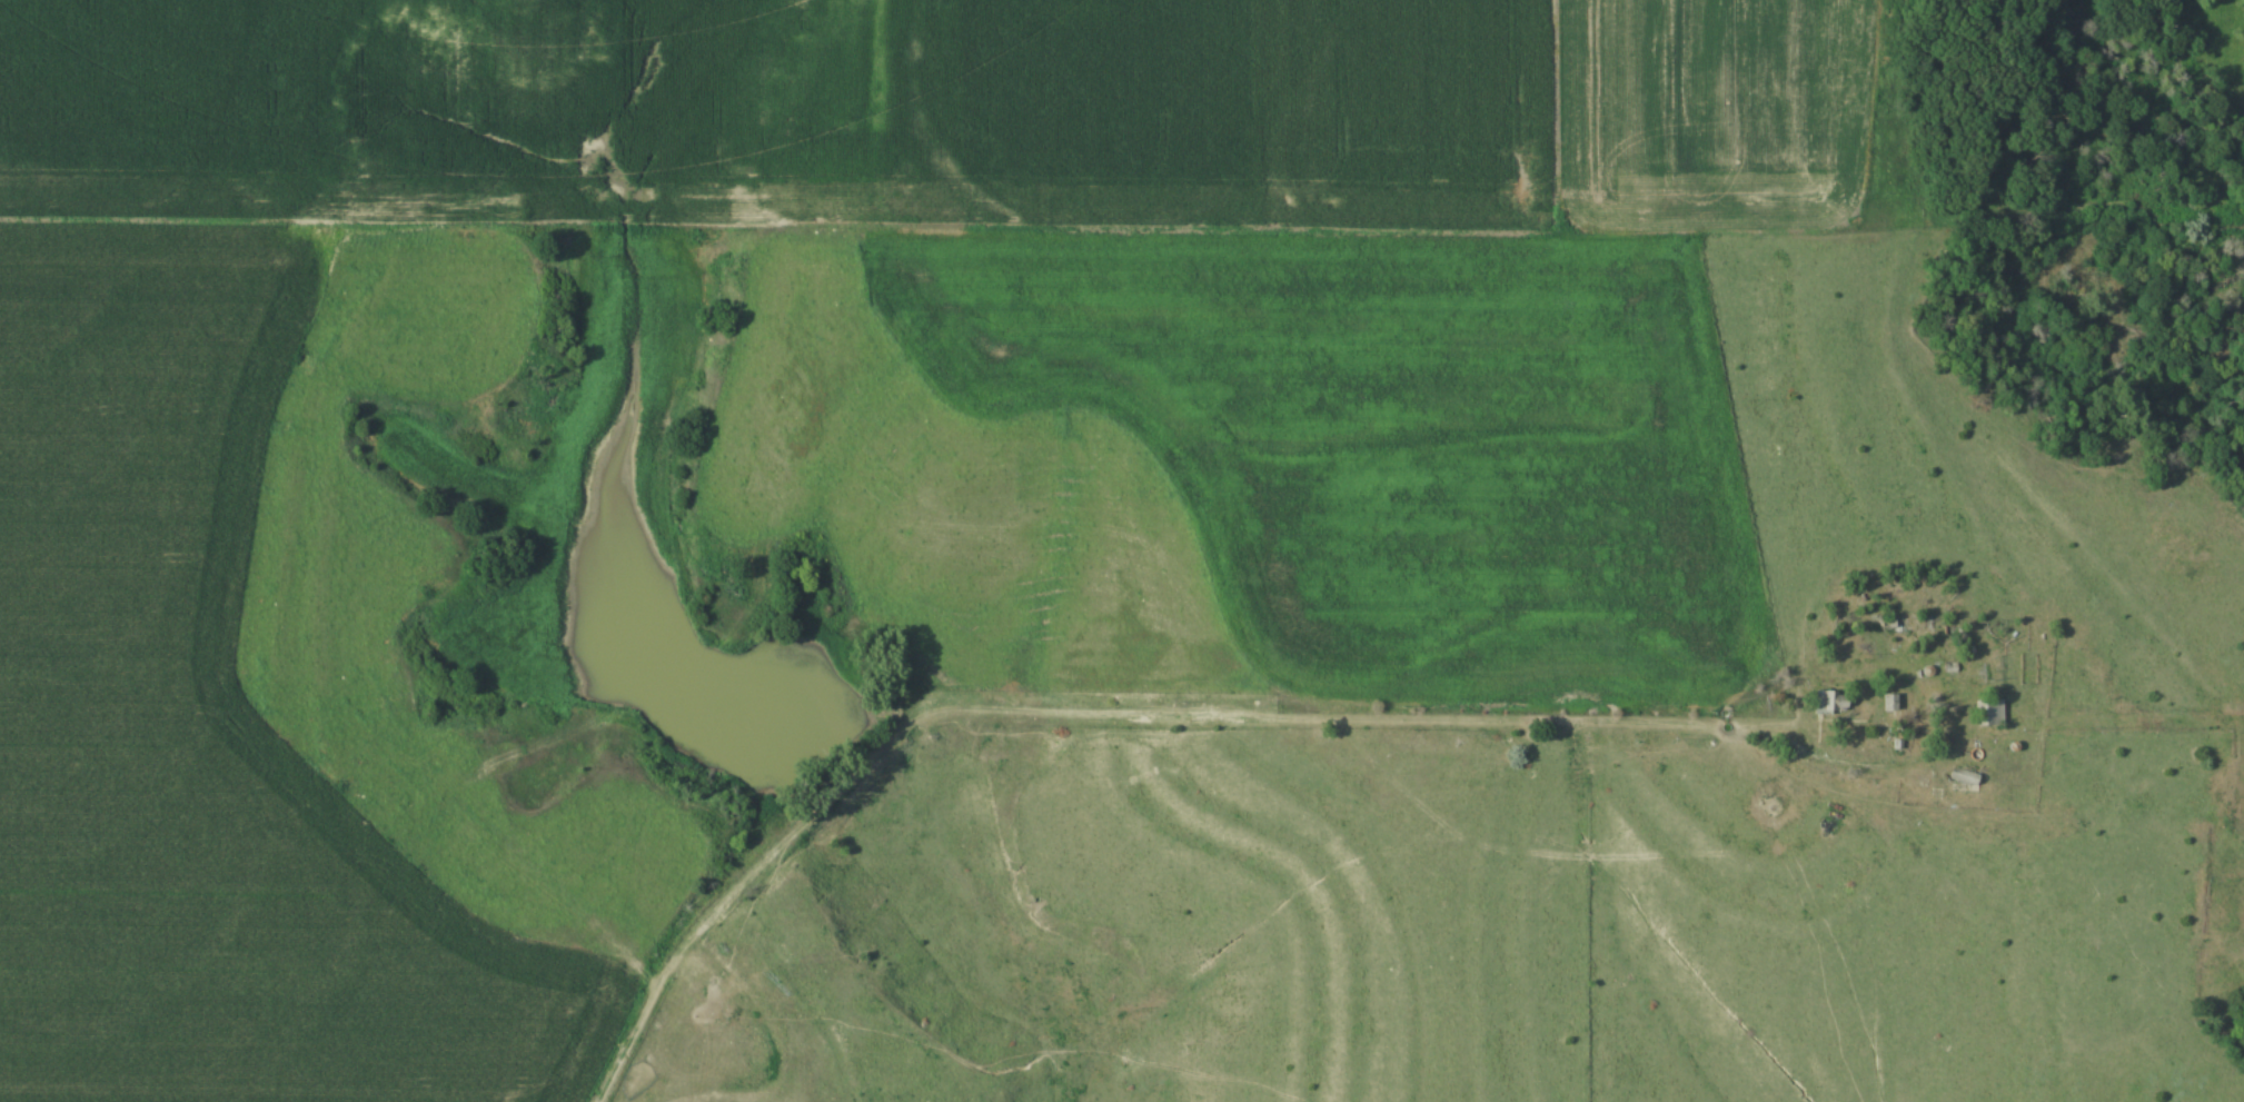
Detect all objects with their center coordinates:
building: (1833, 707)
building: (1992, 715)
road: (1095, 717)

